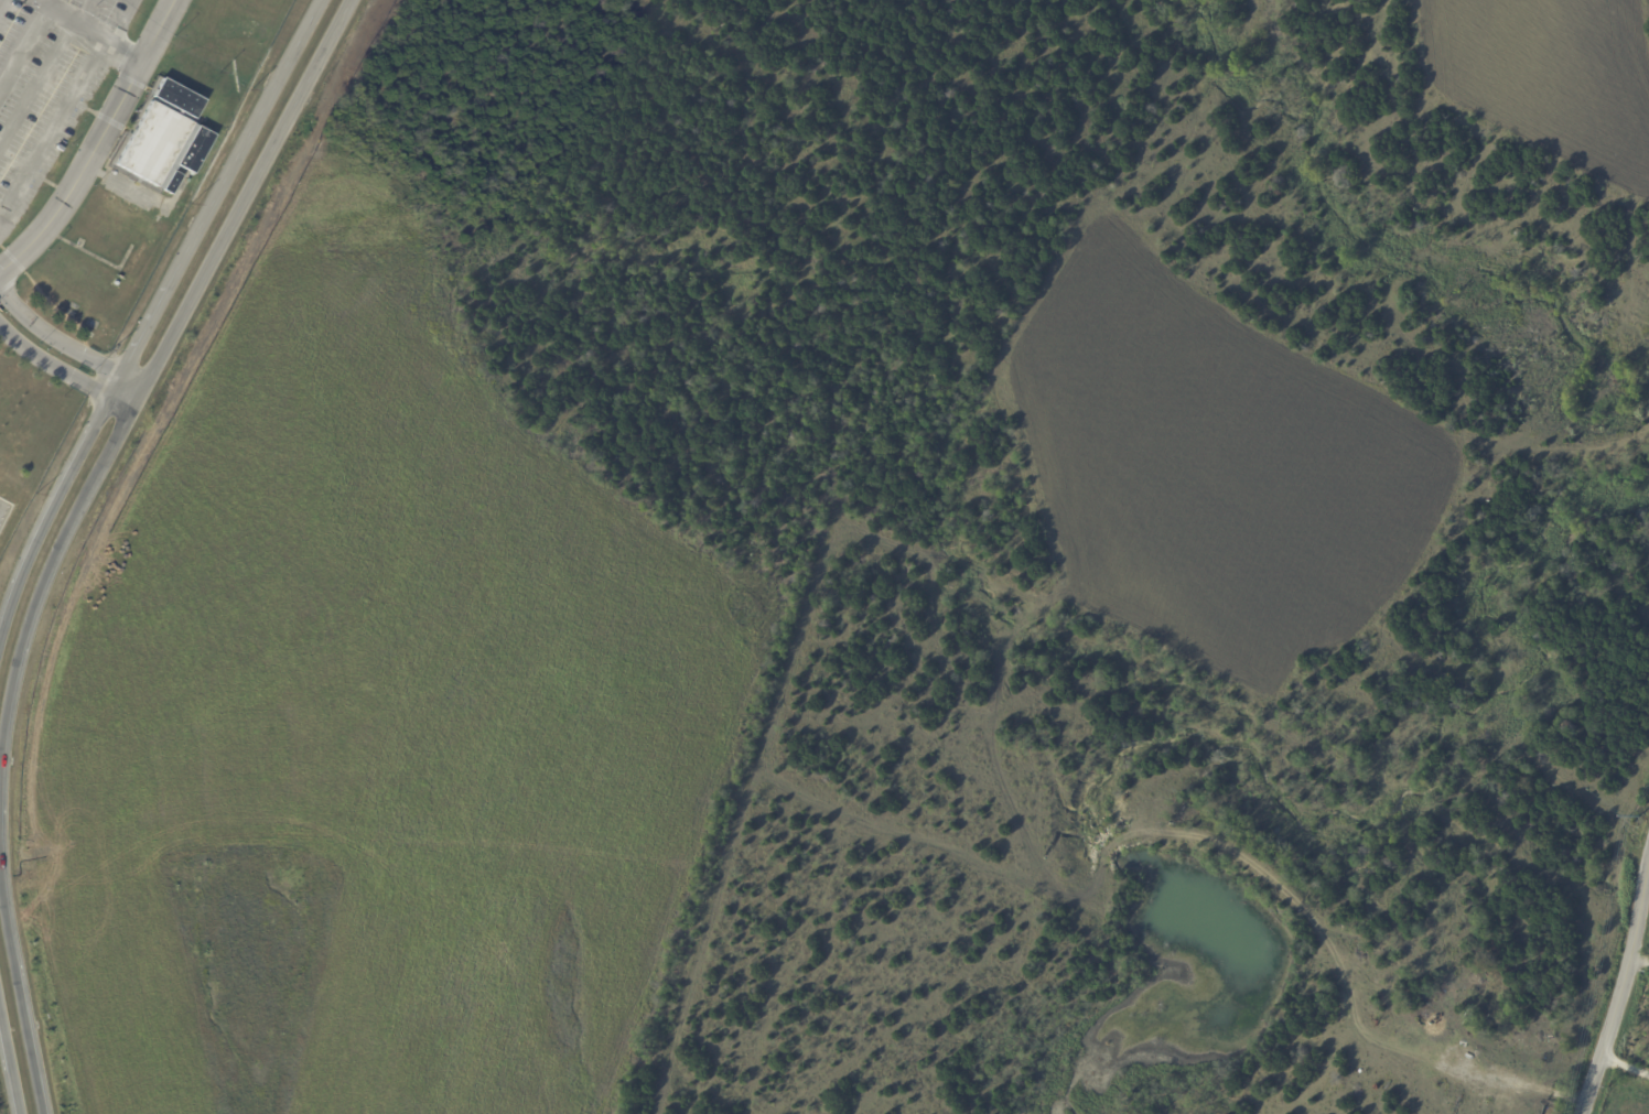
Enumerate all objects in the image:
road: (73, 20)
road: (115, 36)
road: (23, 48)
road: (52, 125)
building: (163, 139)
road: (97, 143)
road: (60, 339)
road: (148, 351)
road: (58, 367)
road: (1639, 963)
road: (1621, 994)
road: (15, 1017)
road: (1625, 1068)

